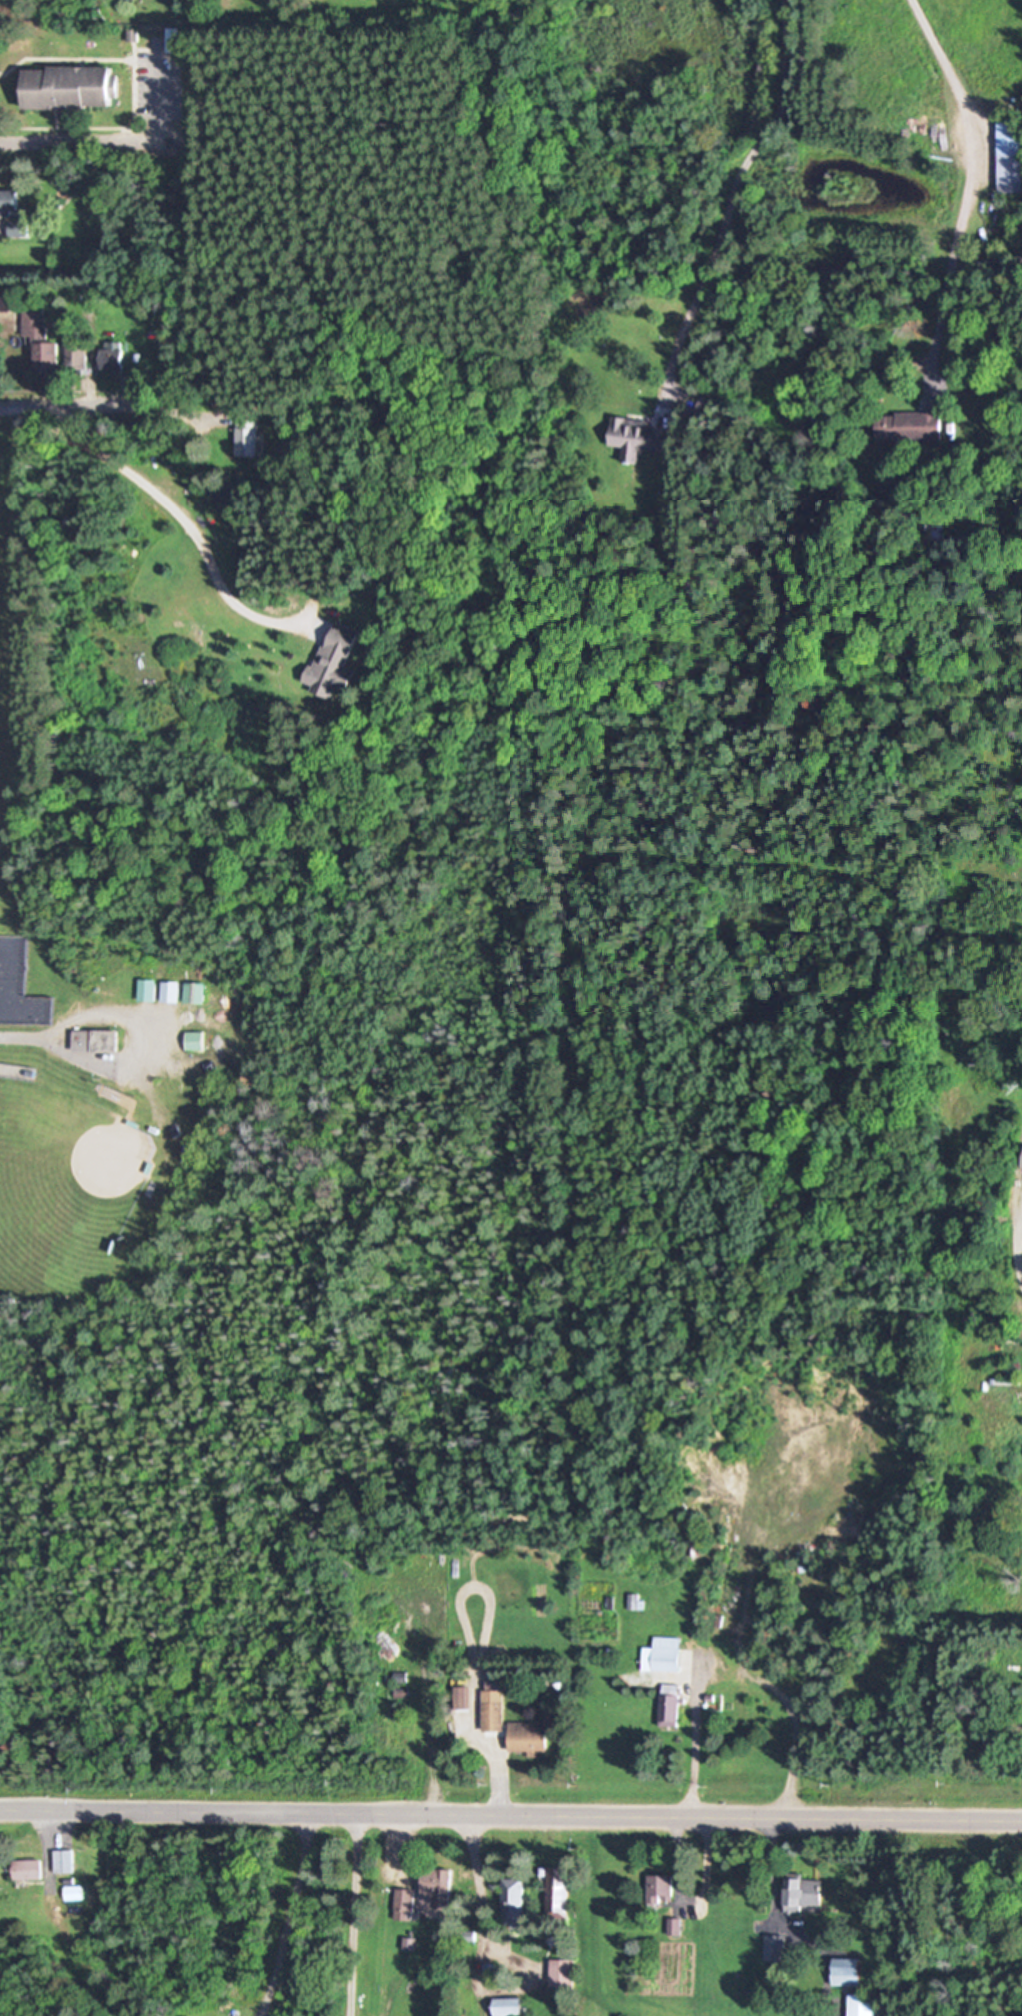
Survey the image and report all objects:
building: (61, 1)
building: (71, 87)
road: (83, 145)
building: (1010, 154)
road: (971, 179)
road: (732, 193)
building: (9, 202)
building: (18, 228)
building: (38, 340)
building: (109, 354)
building: (74, 355)
building: (772, 406)
road: (55, 410)
building: (908, 426)
building: (245, 434)
building: (637, 437)
road: (182, 518)
building: (336, 660)
park: (6, 976)
building: (146, 990)
building: (170, 991)
building: (195, 992)
road: (20, 1036)
building: (96, 1040)
building: (196, 1041)
park: (92, 1167)
park: (37, 1222)
road: (1018, 1245)
building: (631, 1601)
building: (660, 1654)
road: (730, 1673)
building: (889, 1673)
building: (668, 1704)
building: (492, 1716)
building: (528, 1737)
road: (511, 1814)
building: (65, 1861)
building: (28, 1869)
building: (435, 1887)
building: (658, 1888)
building: (75, 1892)
building: (801, 1892)
building: (556, 1899)
building: (511, 1901)
building: (404, 1904)
road: (353, 1914)
road: (289, 1915)
building: (773, 1948)
building: (845, 1971)
building: (561, 1972)
building: (859, 2004)
building: (508, 2006)

